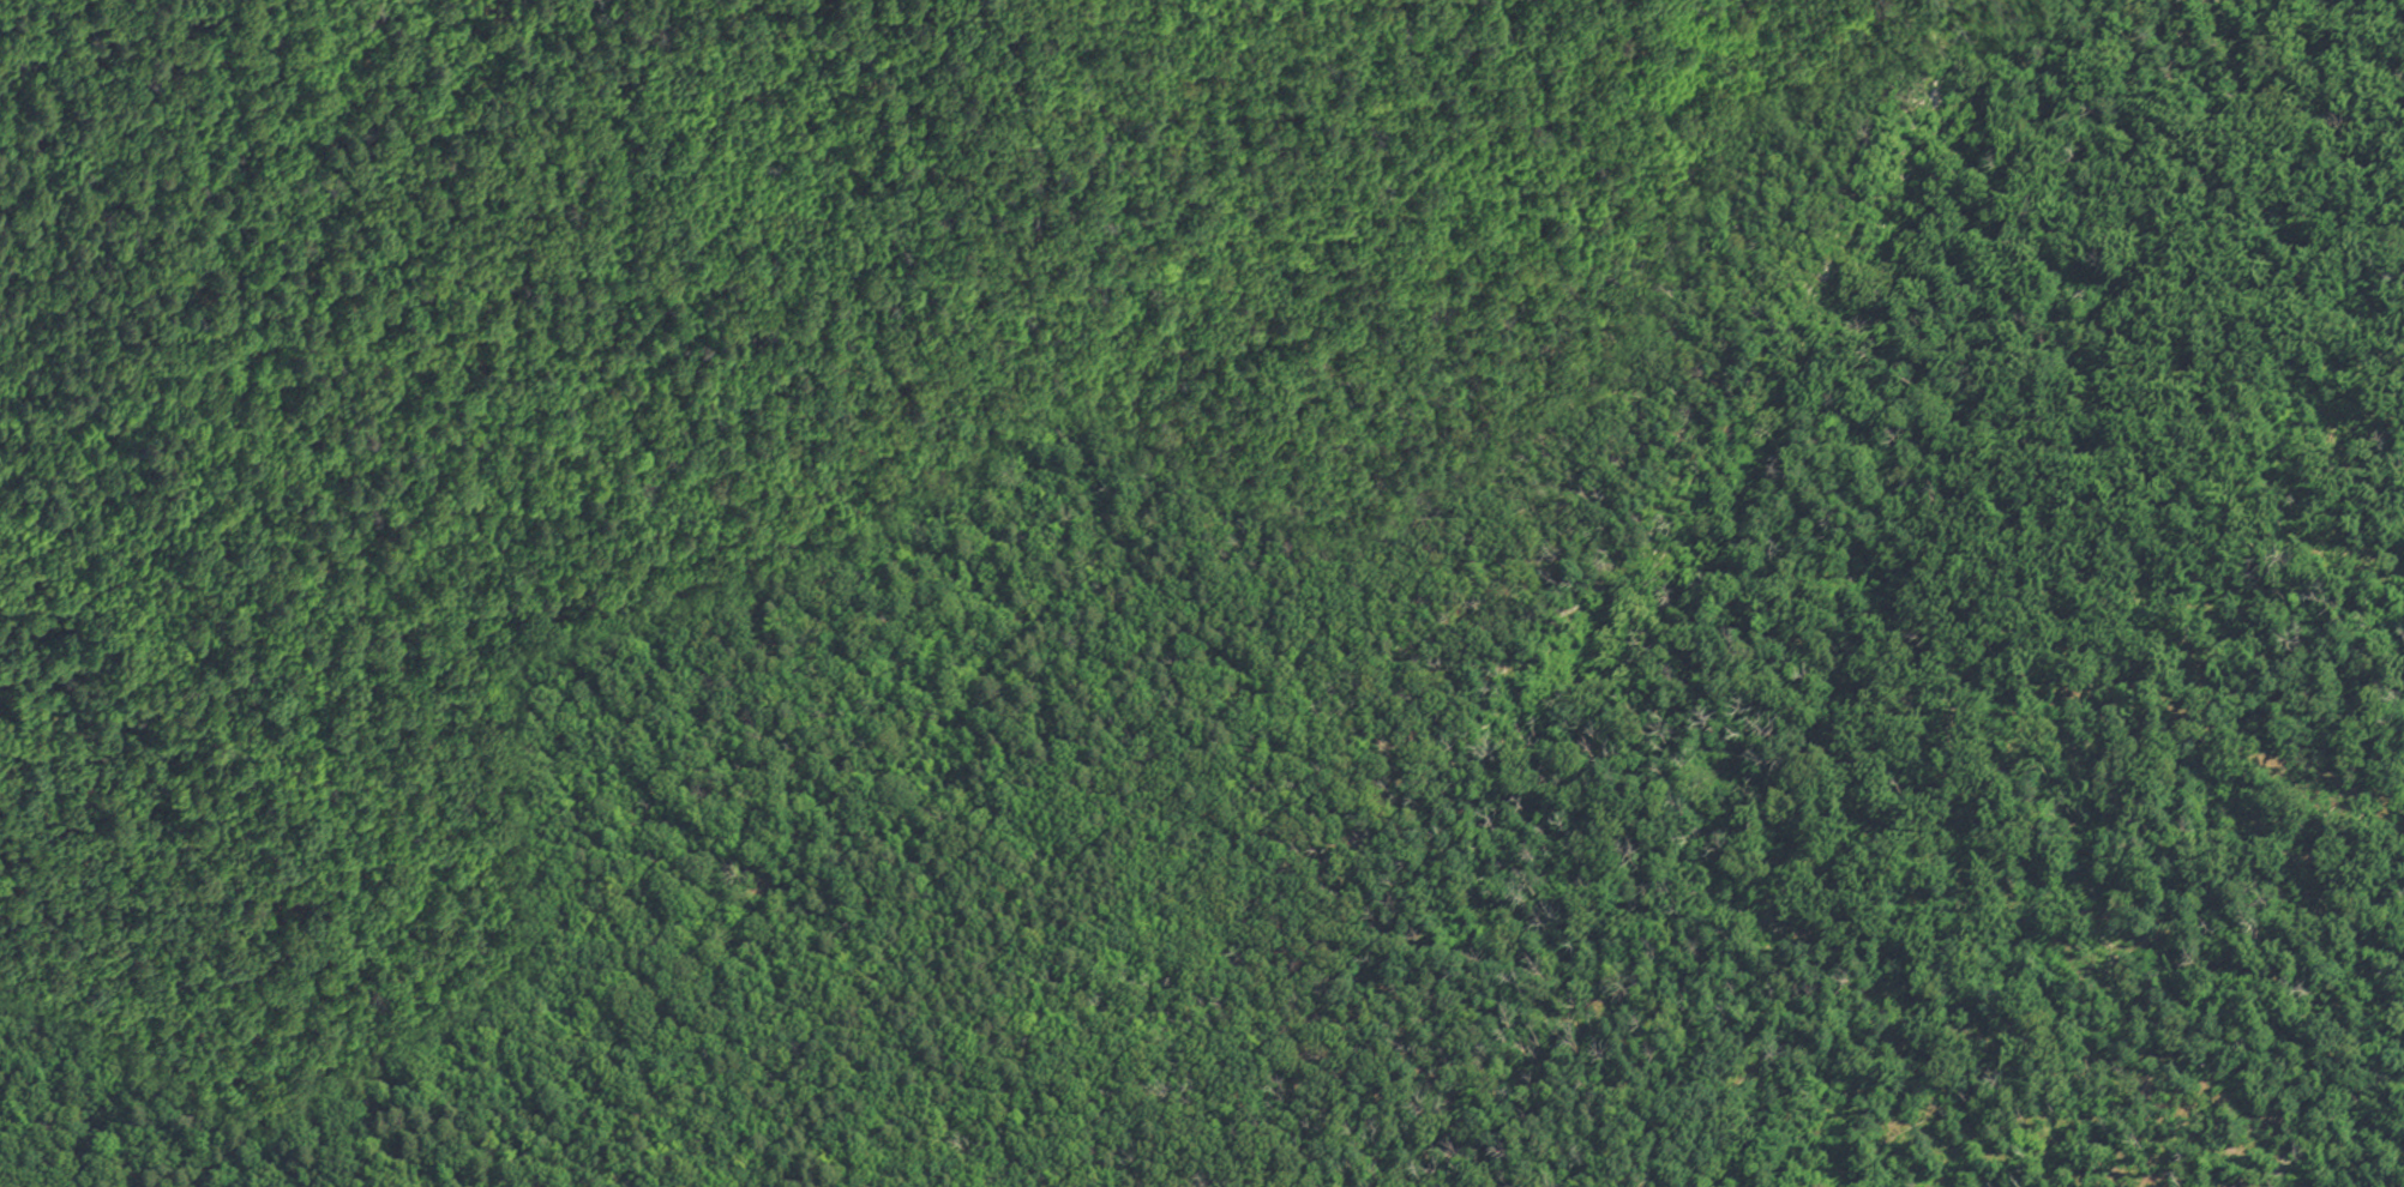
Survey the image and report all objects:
road: (1562, 18)
road: (175, 416)
road: (1586, 574)

